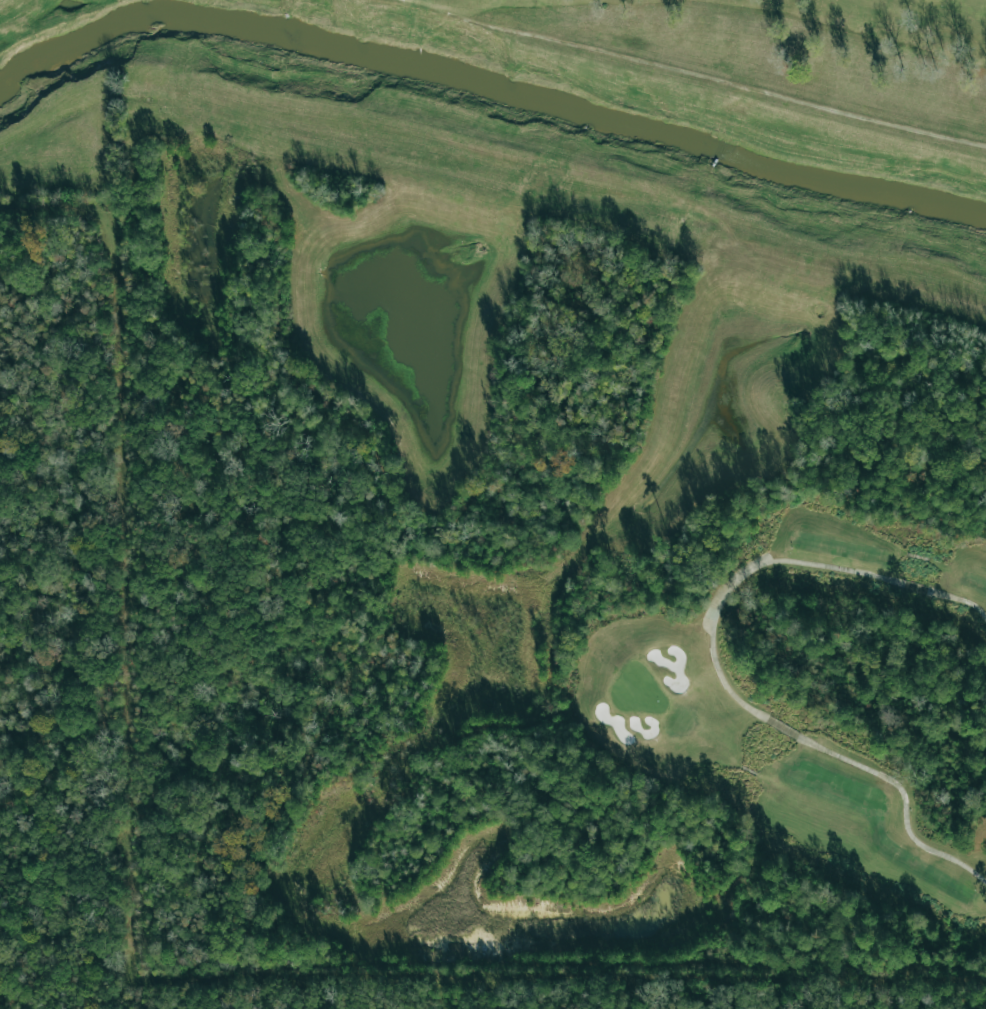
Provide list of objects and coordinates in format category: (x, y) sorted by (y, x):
park: (772, 50)
river: (491, 104)
park: (557, 483)
park: (818, 697)

